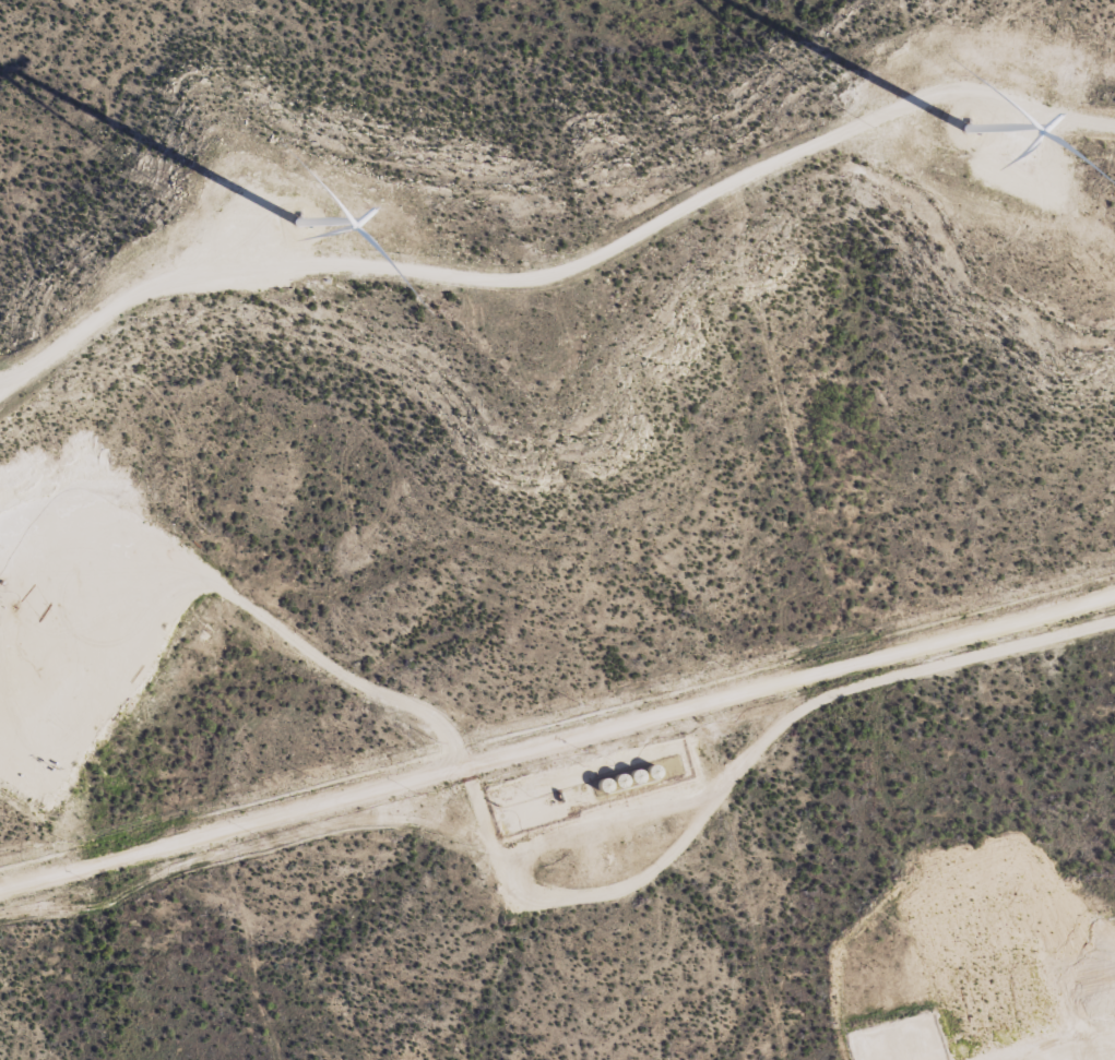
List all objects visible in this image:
wind turbine: (965, 128)
wind turbine: (299, 216)
road: (559, 718)

